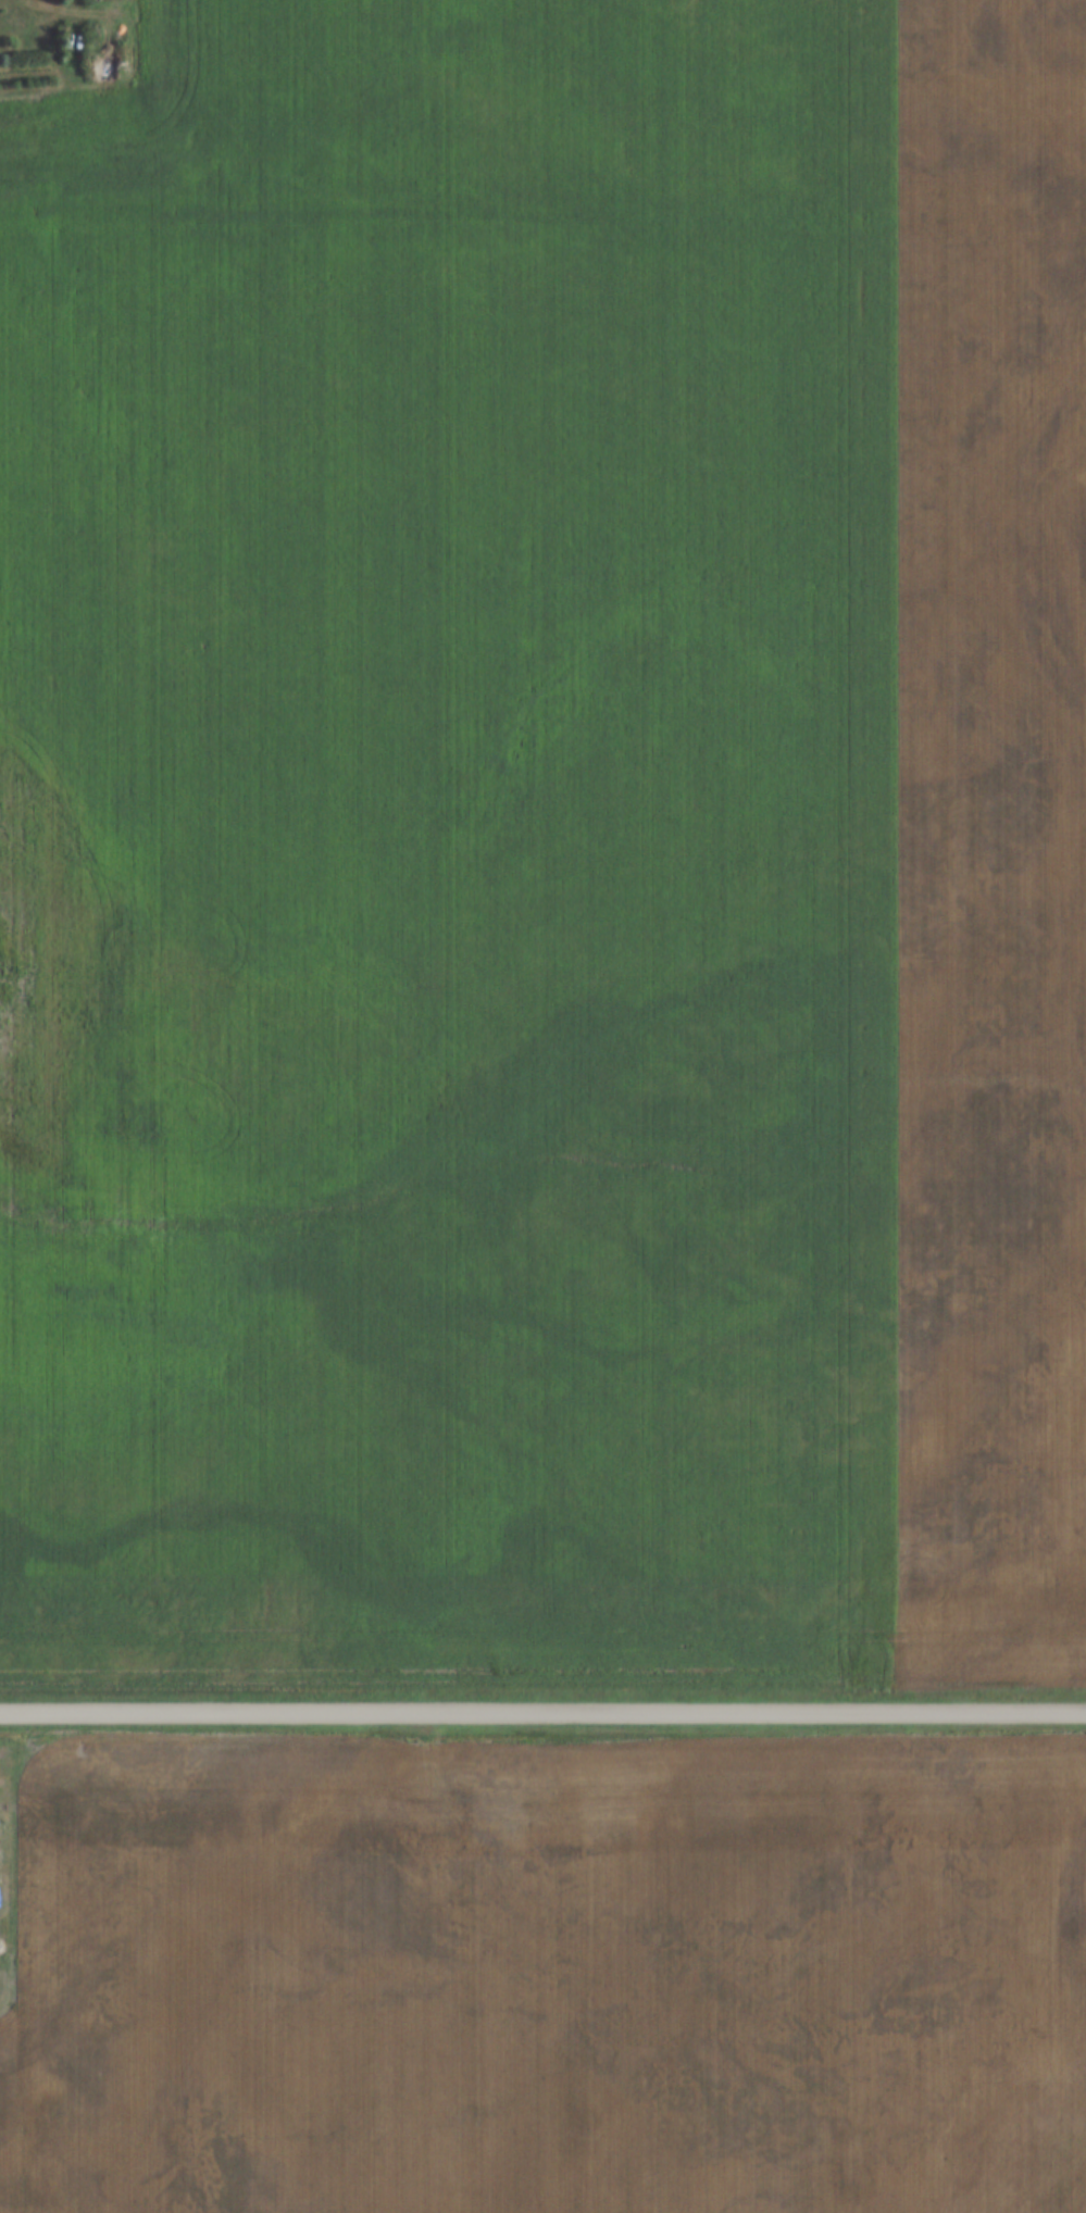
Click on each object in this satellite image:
road: (542, 1713)

